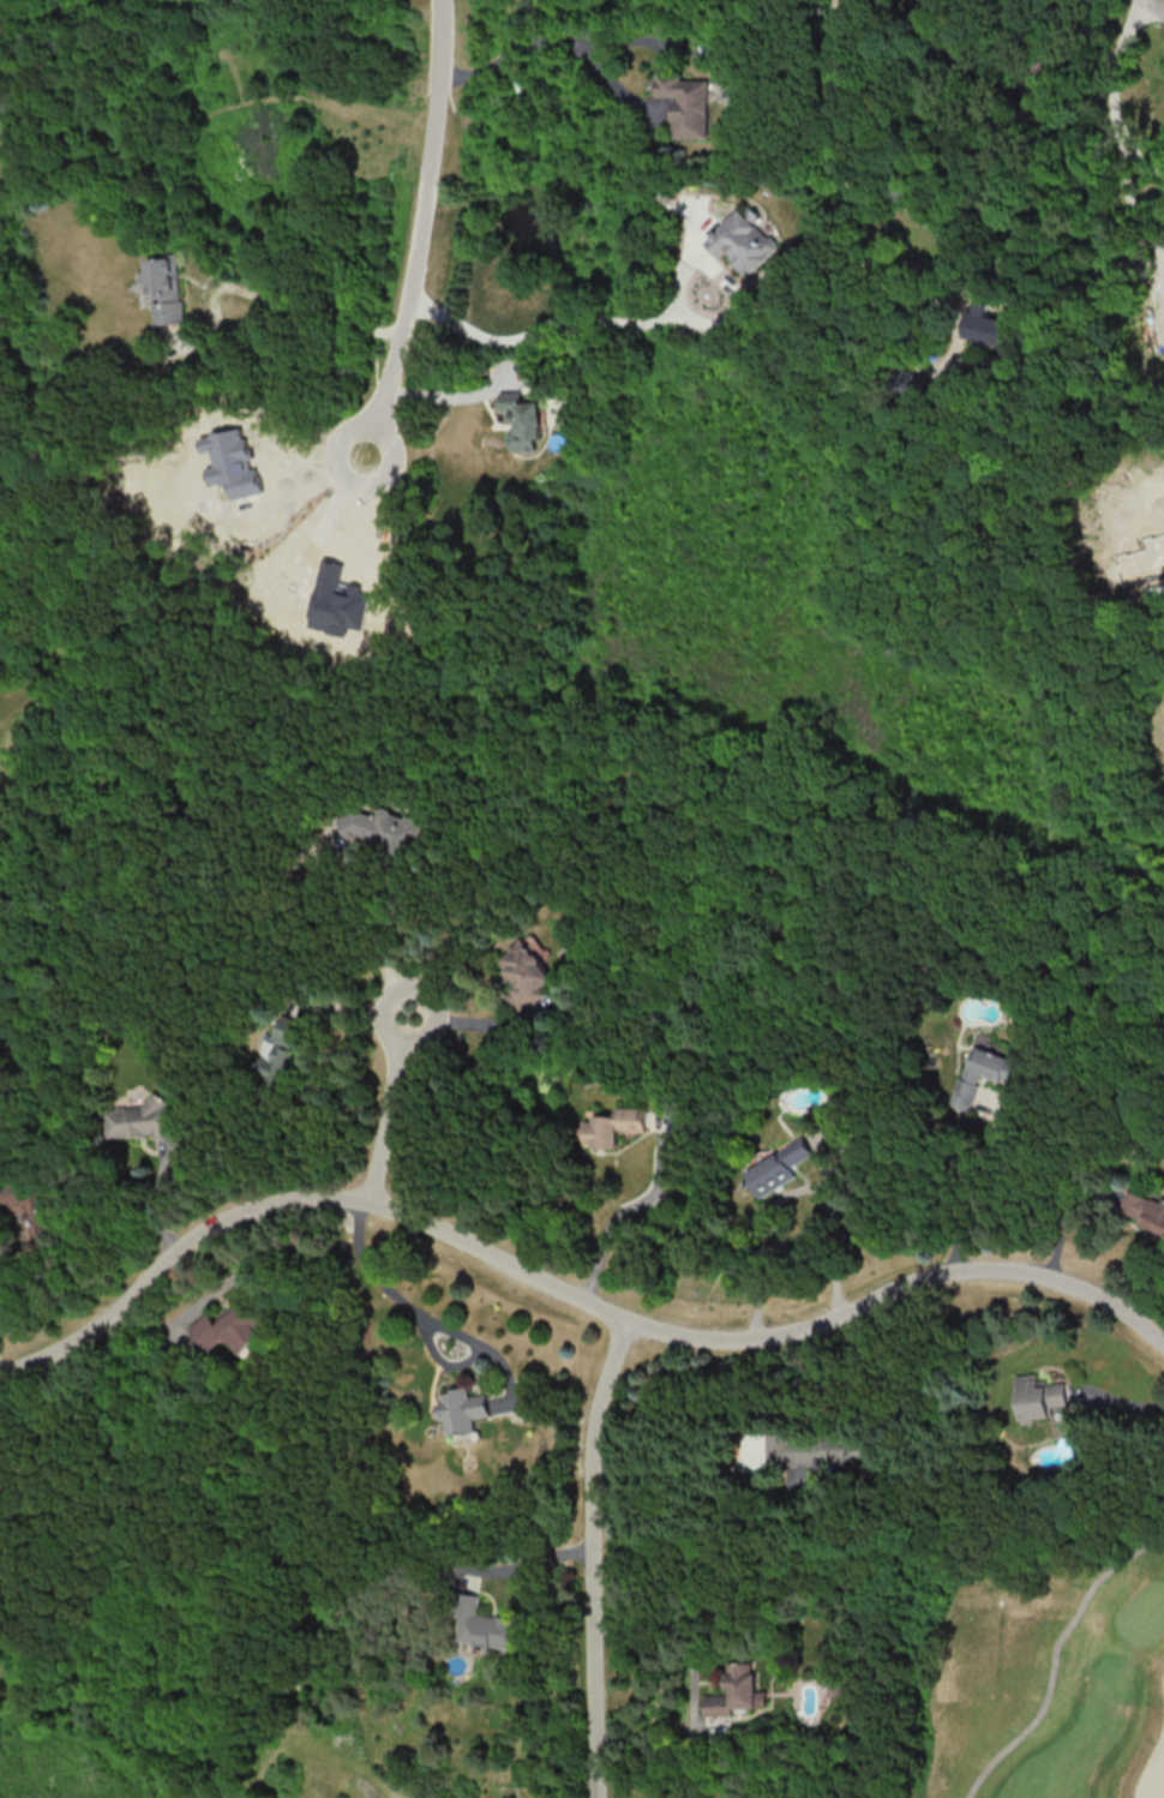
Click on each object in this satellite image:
road: (550, 41)
road: (840, 52)
building: (685, 102)
road: (1120, 133)
road: (426, 230)
building: (742, 240)
building: (164, 287)
road: (258, 295)
building: (984, 324)
road: (535, 331)
road: (884, 344)
building: (520, 420)
building: (230, 462)
building: (336, 600)
building: (383, 829)
road: (376, 941)
building: (523, 975)
road: (479, 1024)
building: (278, 1050)
building: (983, 1068)
road: (390, 1109)
building: (142, 1119)
building: (612, 1126)
building: (776, 1168)
road: (793, 1189)
road: (958, 1203)
building: (30, 1207)
building: (1144, 1210)
road: (614, 1213)
road: (376, 1288)
road: (16, 1290)
road: (566, 1293)
building: (228, 1327)
building: (1037, 1397)
road: (1124, 1403)
building: (461, 1409)
building: (804, 1450)
road: (588, 1558)
road: (524, 1563)
building: (486, 1626)
road: (1052, 1656)
park: (1028, 1665)
building: (736, 1691)

